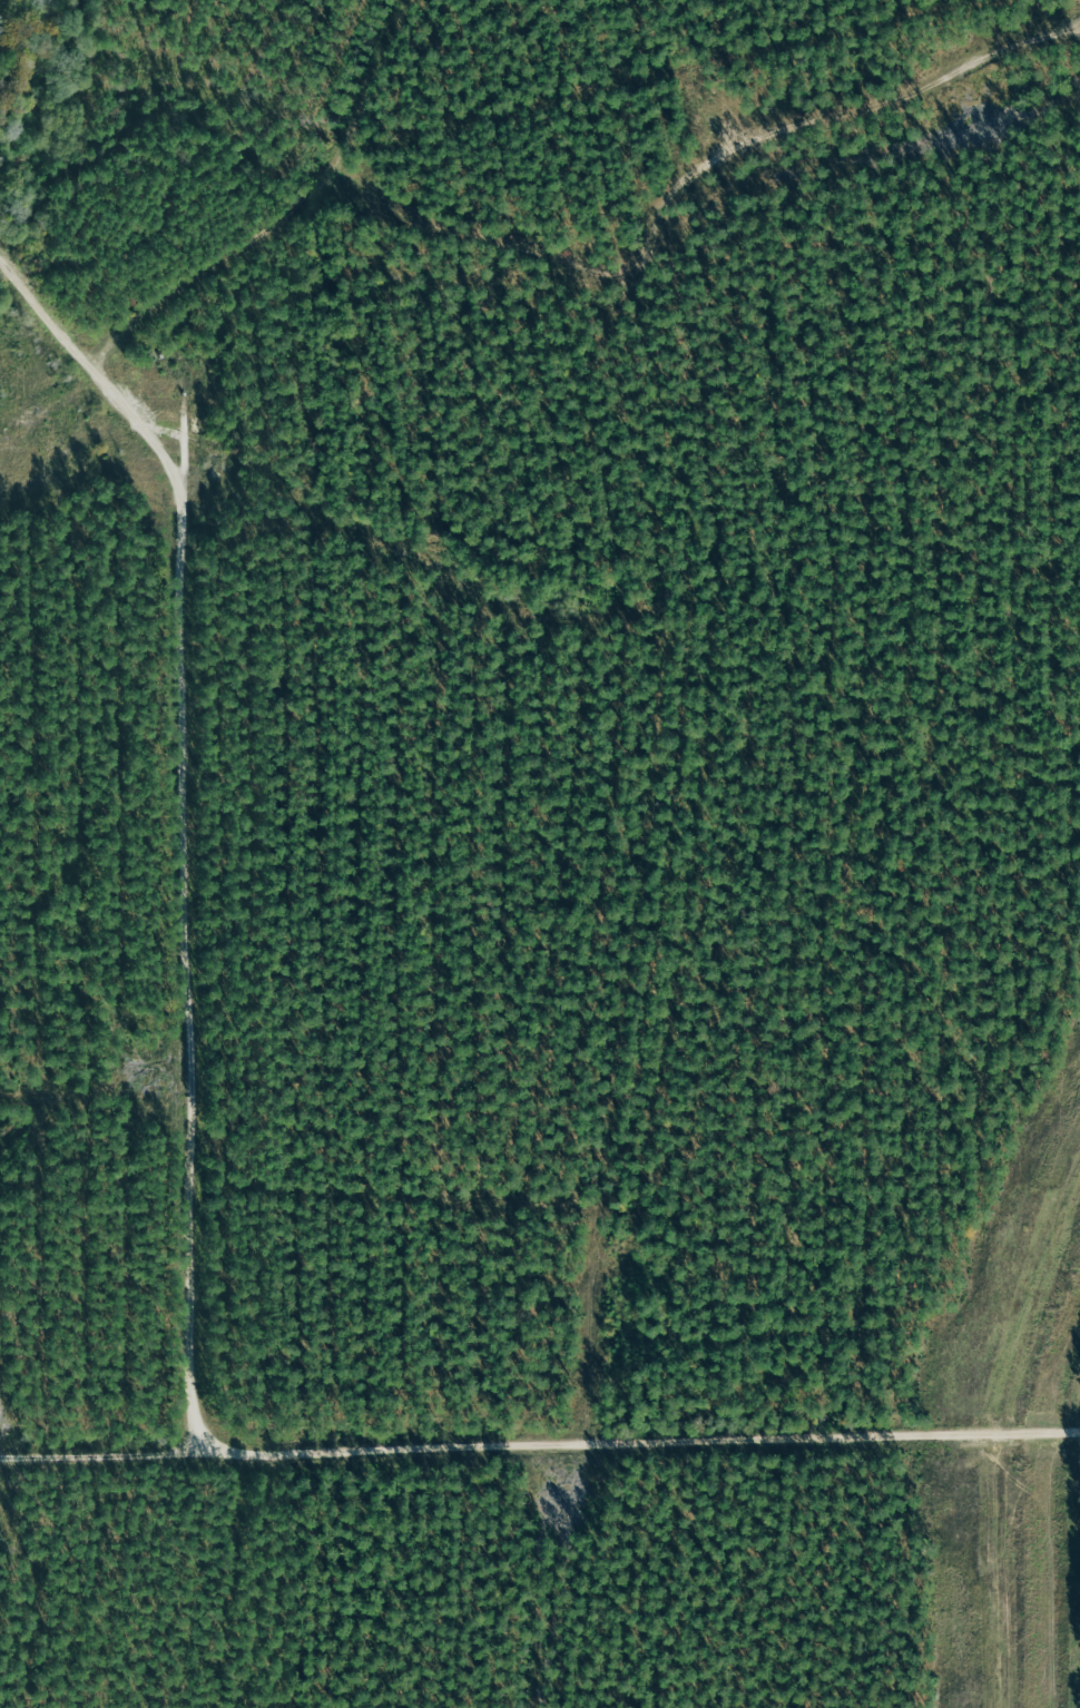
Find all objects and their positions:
road: (688, 189)
road: (289, 218)
road: (200, 828)
road: (540, 1456)

